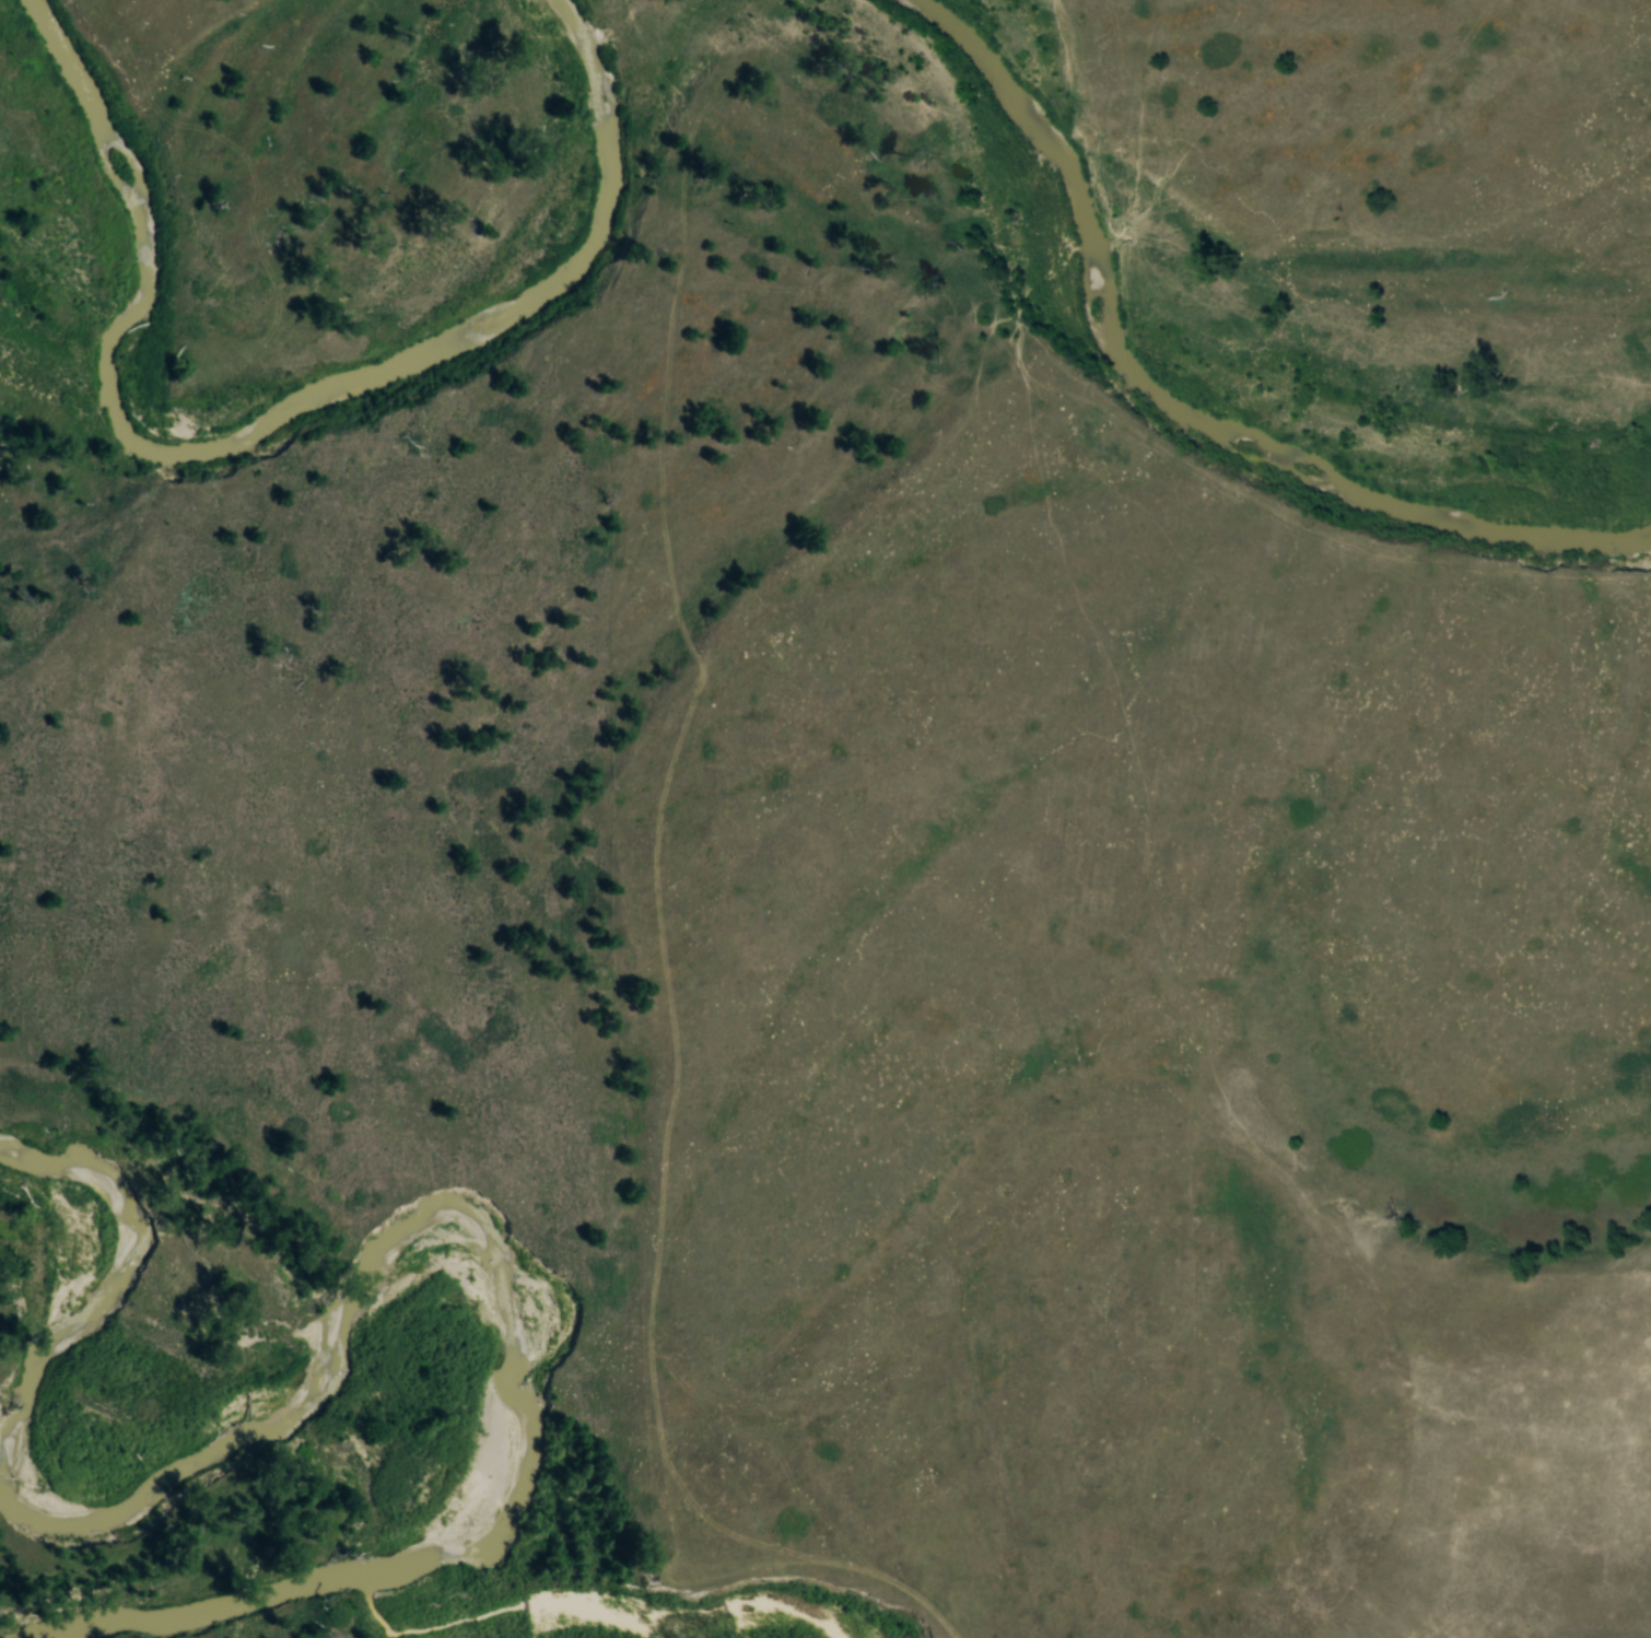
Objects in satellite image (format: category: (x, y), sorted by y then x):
river: (1172, 406)
river: (265, 419)
river: (377, 1291)
river: (584, 1608)

